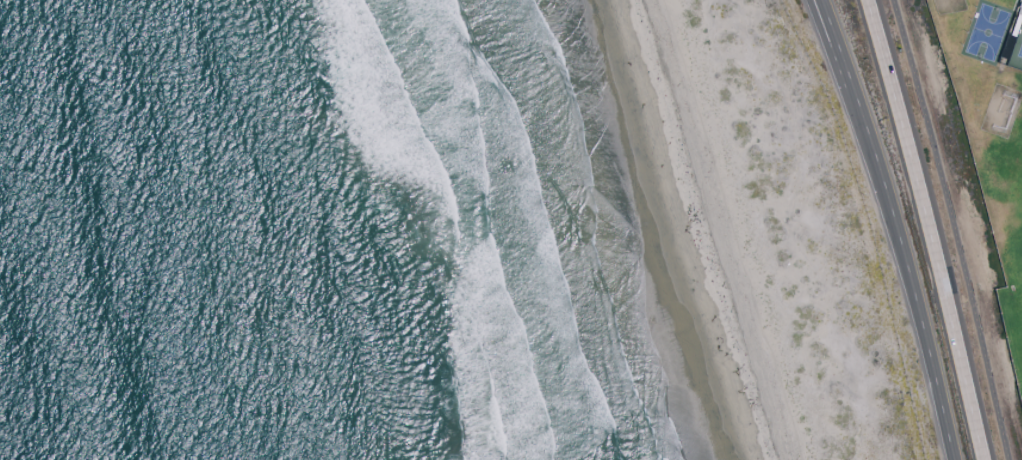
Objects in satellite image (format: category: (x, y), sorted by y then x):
road: (828, 32)
road: (832, 32)
park: (1016, 51)
road: (847, 74)
park: (990, 129)
road: (957, 228)
road: (930, 229)
road: (899, 271)

